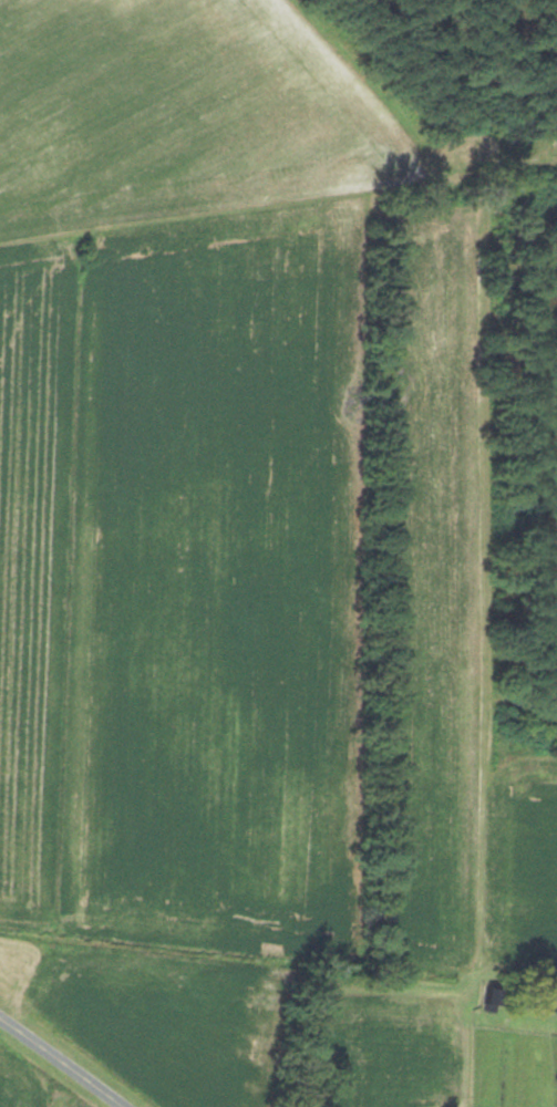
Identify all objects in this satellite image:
building: (539, 1003)
road: (51, 1069)

